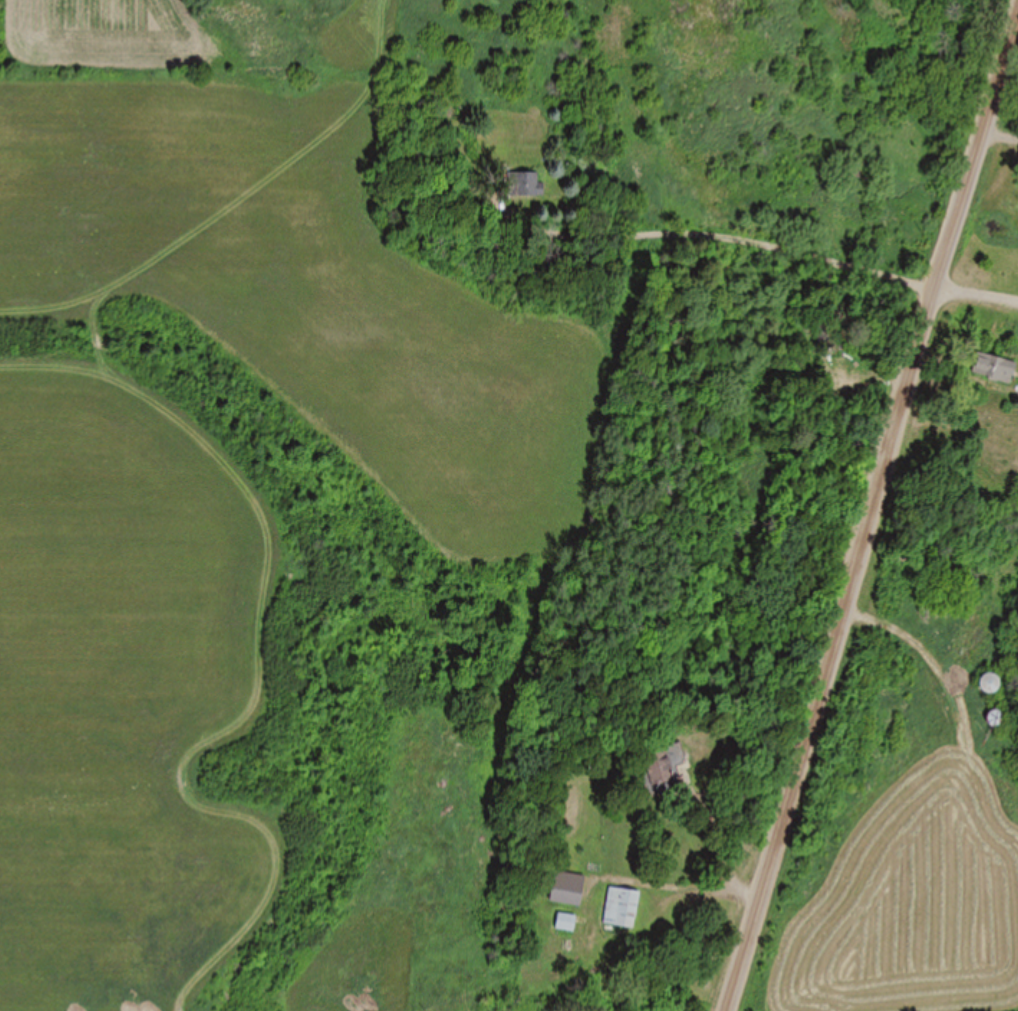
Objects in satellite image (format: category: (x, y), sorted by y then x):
building: (524, 184)
building: (994, 368)
road: (870, 508)
building: (988, 684)
building: (994, 719)
building: (664, 764)
building: (622, 909)
building: (566, 923)

